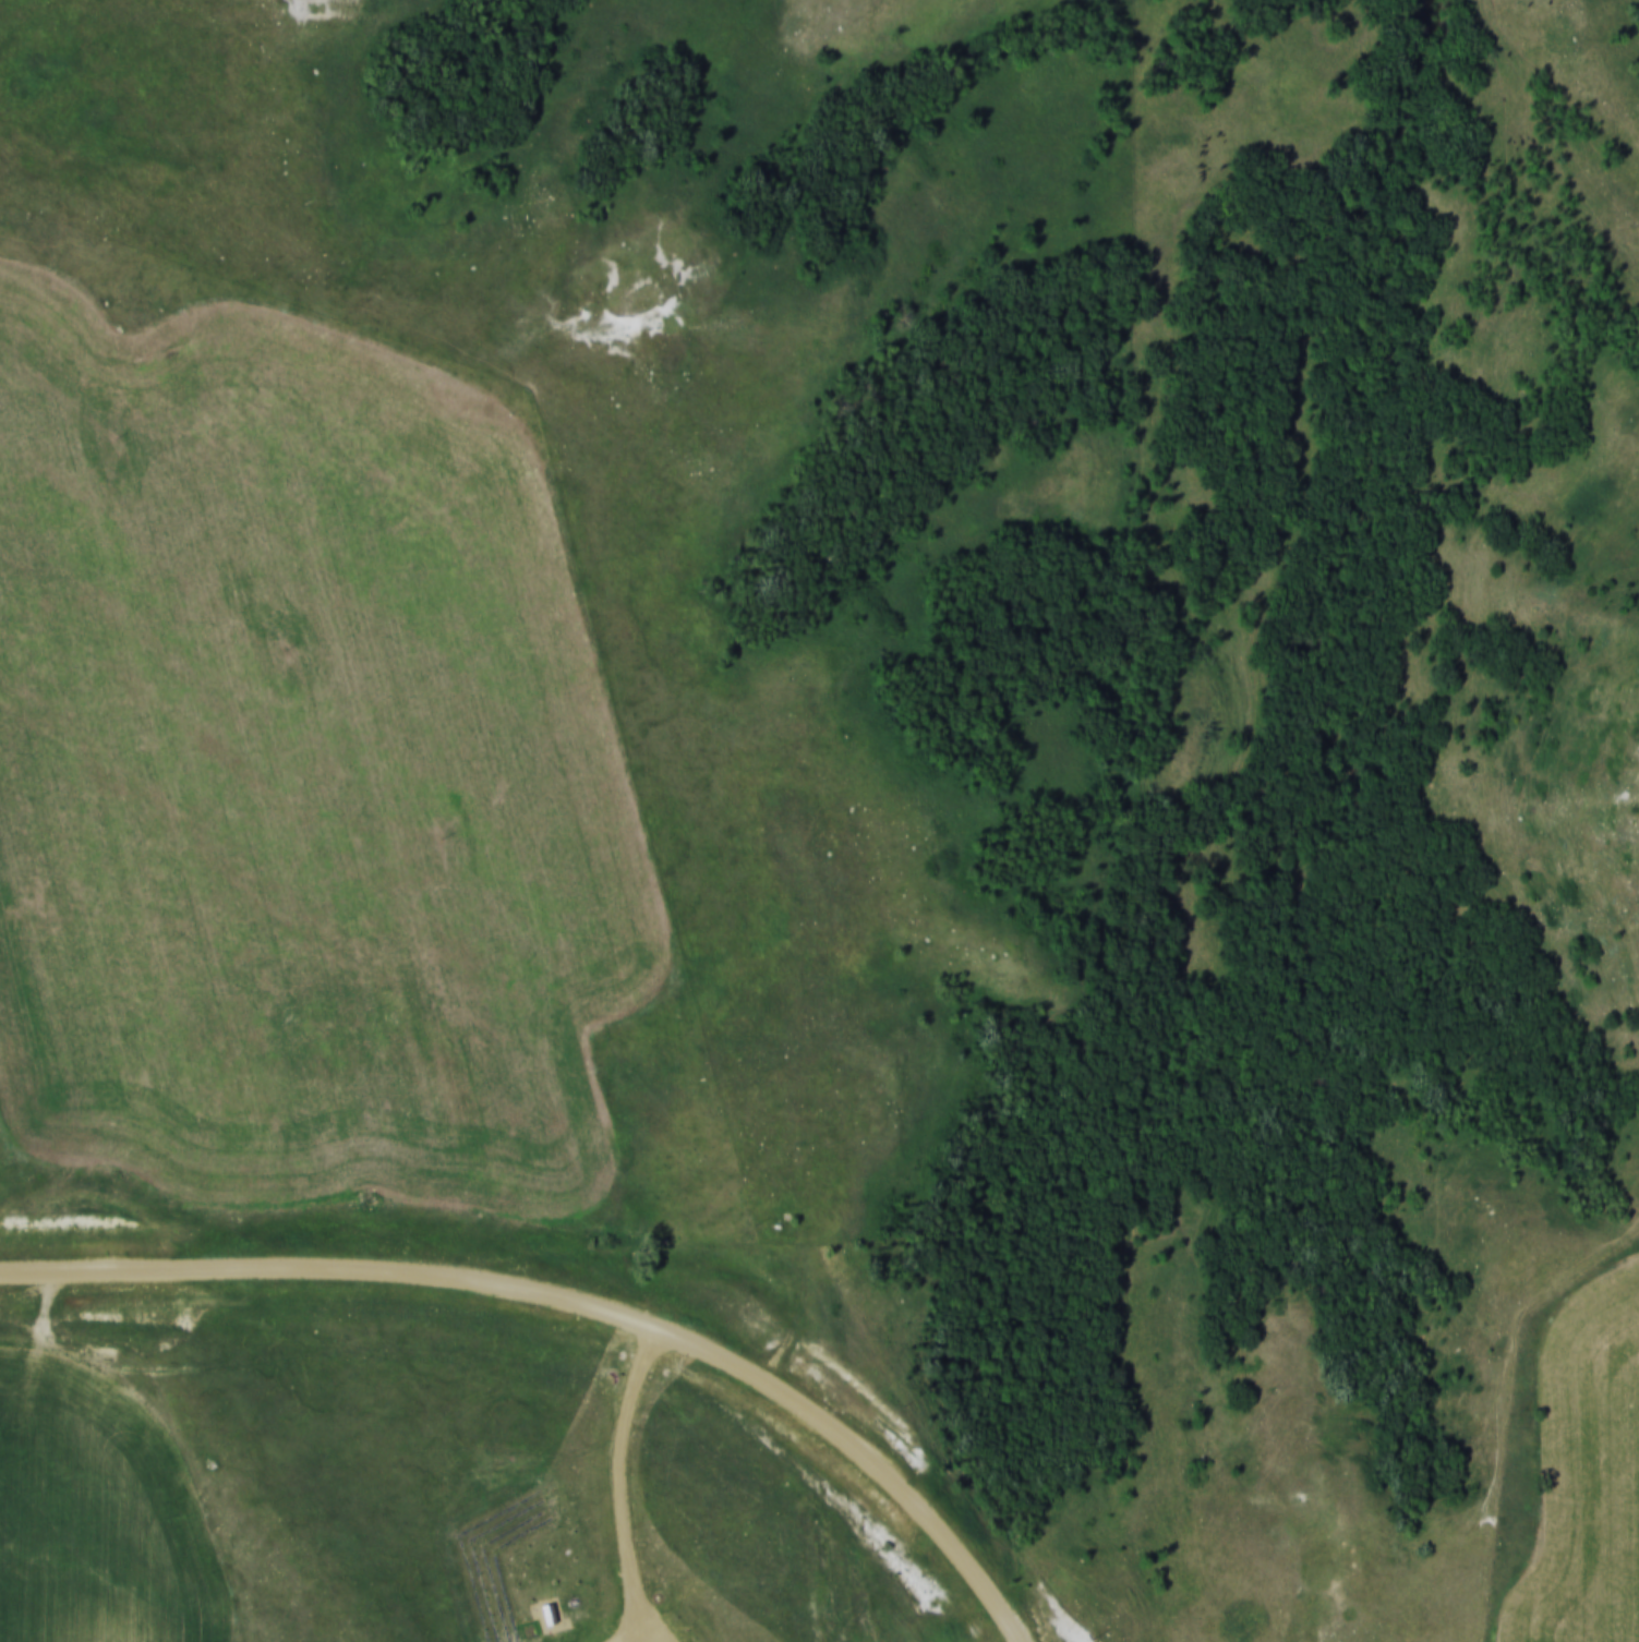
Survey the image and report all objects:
road: (575, 1301)

